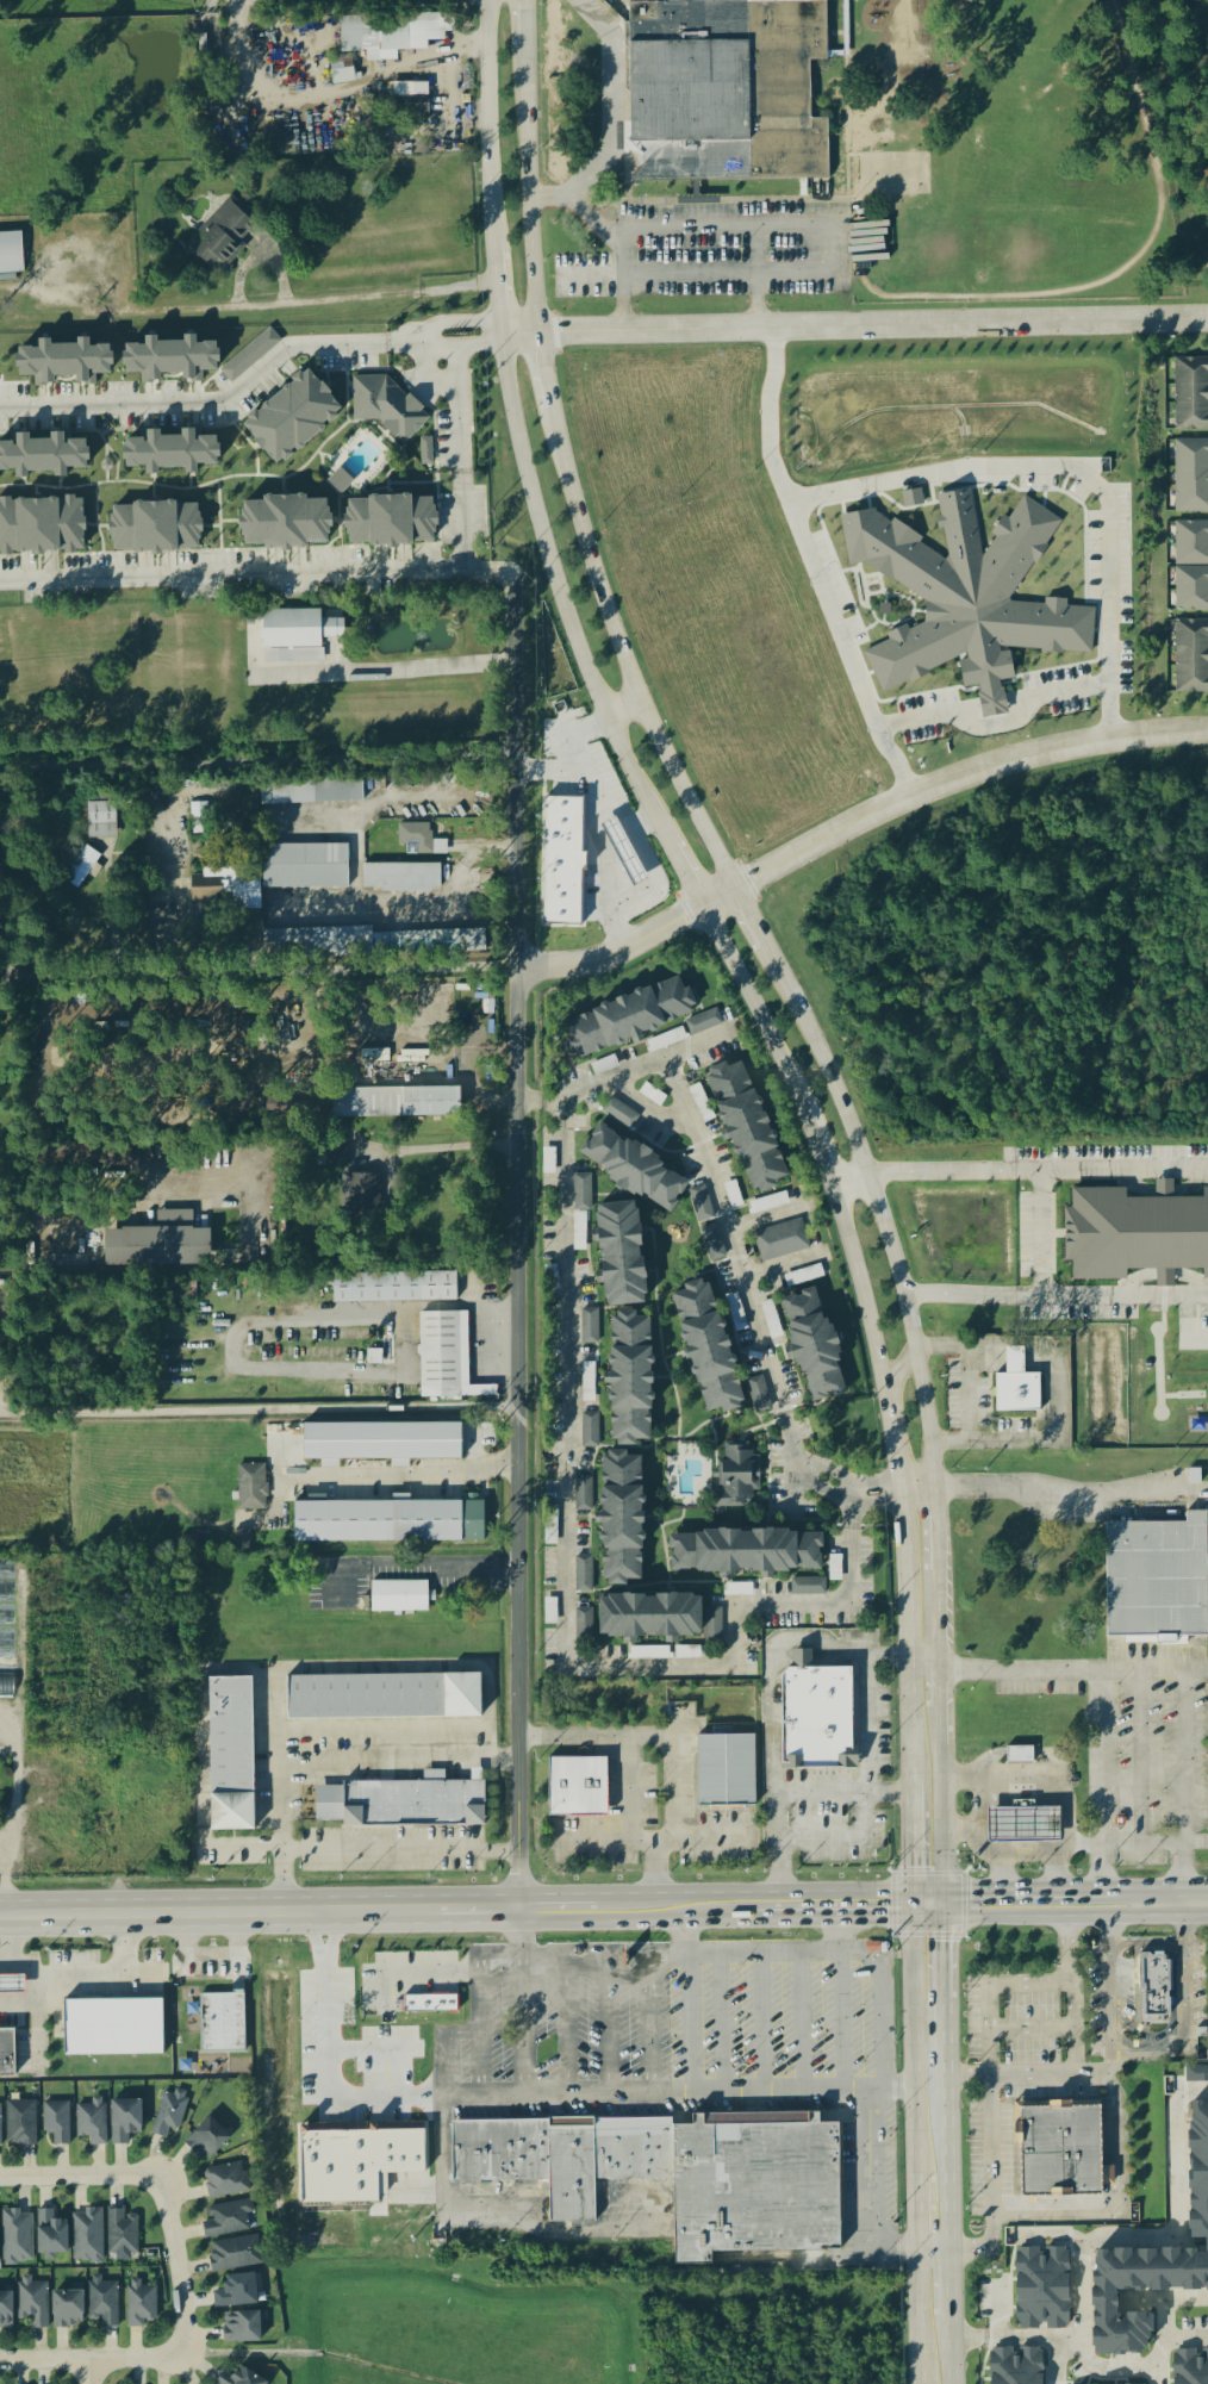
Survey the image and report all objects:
road: (210, 20)
road: (525, 24)
building: (394, 35)
building: (344, 73)
building: (413, 89)
building: (722, 91)
road: (614, 102)
road: (491, 126)
crop: (85, 157)
road: (579, 211)
road: (845, 214)
road: (736, 230)
building: (225, 235)
road: (818, 251)
building: (12, 254)
road: (689, 274)
road: (758, 280)
road: (622, 281)
road: (499, 293)
road: (996, 299)
road: (315, 303)
road: (855, 328)
building: (197, 359)
building: (71, 362)
road: (251, 378)
building: (1191, 396)
building: (391, 407)
building: (303, 416)
building: (429, 452)
building: (179, 453)
road: (457, 455)
building: (48, 456)
road: (1073, 473)
building: (1193, 477)
building: (343, 480)
road: (568, 484)
building: (915, 499)
building: (396, 522)
building: (294, 523)
building: (44, 527)
building: (161, 528)
building: (1193, 543)
road: (815, 568)
road: (259, 569)
building: (1193, 590)
building: (967, 595)
road: (559, 596)
building: (300, 636)
building: (1191, 658)
road: (391, 670)
road: (627, 714)
road: (996, 723)
road: (257, 762)
road: (553, 771)
building: (315, 793)
building: (200, 811)
building: (102, 821)
road: (645, 824)
road: (853, 826)
road: (600, 827)
building: (422, 840)
road: (648, 857)
building: (568, 863)
building: (309, 867)
road: (685, 873)
building: (405, 878)
building: (232, 888)
road: (425, 909)
road: (754, 921)
building: (372, 944)
road: (410, 967)
road: (754, 1008)
building: (629, 1017)
building: (705, 1021)
road: (471, 1056)
road: (530, 1100)
building: (401, 1102)
building: (624, 1113)
building: (746, 1127)
road: (348, 1137)
road: (857, 1145)
road: (815, 1147)
road: (1108, 1168)
building: (631, 1169)
road: (938, 1170)
road: (714, 1178)
road: (847, 1178)
building: (362, 1193)
building: (584, 1193)
building: (700, 1203)
building: (1137, 1232)
building: (780, 1240)
building: (163, 1243)
building: (715, 1243)
road: (517, 1246)
building: (619, 1255)
building: (809, 1275)
road: (859, 1283)
building: (398, 1288)
road: (954, 1291)
road: (1108, 1291)
road: (243, 1327)
building: (590, 1327)
building: (812, 1346)
building: (706, 1347)
road: (988, 1353)
road: (1039, 1353)
road: (1014, 1355)
building: (449, 1358)
road: (986, 1362)
road: (1014, 1362)
road: (1039, 1362)
road: (901, 1365)
road: (986, 1369)
road: (1014, 1370)
road: (1039, 1370)
building: (629, 1380)
road: (1054, 1383)
building: (1015, 1386)
road: (967, 1392)
road: (923, 1394)
building: (759, 1395)
road: (260, 1407)
building: (592, 1430)
road: (892, 1438)
building: (387, 1440)
road: (802, 1465)
road: (934, 1467)
road: (404, 1475)
building: (736, 1477)
building: (254, 1487)
road: (1052, 1489)
road: (857, 1492)
building: (586, 1494)
building: (621, 1519)
building: (393, 1521)
road: (938, 1531)
building: (244, 1539)
building: (745, 1554)
road: (435, 1563)
road: (565, 1571)
building: (586, 1574)
building: (1156, 1580)
building: (808, 1588)
building: (401, 1596)
building: (7, 1613)
building: (648, 1618)
road: (940, 1620)
building: (586, 1625)
building: (712, 1626)
road: (903, 1639)
building: (7, 1662)
road: (919, 1663)
road: (379, 1666)
road: (1140, 1669)
road: (941, 1691)
building: (382, 1698)
building: (817, 1717)
road: (941, 1729)
road: (673, 1744)
building: (230, 1755)
building: (1019, 1756)
road: (1142, 1756)
road: (329, 1761)
building: (730, 1770)
road: (1185, 1774)
road: (1050, 1779)
building: (577, 1788)
road: (841, 1791)
building: (401, 1804)
road: (627, 1804)
road: (14, 1817)
road: (942, 1817)
road: (119, 1824)
building: (1022, 1825)
road: (908, 1837)
road: (988, 1841)
road: (1156, 1842)
road: (4, 1849)
road: (405, 1851)
road: (1027, 1857)
road: (1054, 1865)
traffic signals: (910, 1890)
traffic signals: (947, 1890)
road: (1050, 1890)
road: (835, 1893)
road: (640, 1896)
road: (1197, 1899)
road: (262, 1913)
road: (1051, 1917)
traffic signals: (910, 1918)
traffic signals: (947, 1918)
road: (834, 1919)
road: (1188, 1922)
road: (640, 1923)
road: (1148, 1944)
road: (946, 1946)
road: (15, 1947)
road: (574, 1947)
road: (746, 1954)
road: (325, 1957)
road: (648, 1962)
road: (241, 1966)
road: (96, 1971)
road: (417, 1972)
building: (14, 1985)
road: (879, 1988)
building: (1154, 1988)
road: (1110, 1991)
building: (434, 2004)
road: (38, 2005)
road: (186, 2019)
road: (759, 2022)
road: (804, 2022)
building: (222, 2023)
road: (690, 2023)
road: (723, 2023)
building: (117, 2028)
road: (910, 2033)
road: (1188, 2036)
road: (368, 2053)
building: (10, 2054)
road: (1070, 2055)
road: (990, 2060)
road: (326, 2068)
road: (1091, 2071)
building: (1197, 2074)
road: (543, 2093)
building: (170, 2112)
building: (124, 2120)
building: (92, 2121)
building: (56, 2122)
building: (20, 2123)
building: (1, 2127)
road: (947, 2127)
road: (1115, 2135)
building: (206, 2139)
building: (1058, 2149)
building: (362, 2164)
building: (1203, 2172)
building: (677, 2173)
road: (81, 2178)
building: (225, 2180)
road: (864, 2193)
road: (913, 2214)
road: (1025, 2217)
building: (226, 2220)
building: (120, 2232)
building: (50, 2233)
building: (87, 2235)
road: (1157, 2236)
building: (17, 2237)
building: (0, 2248)
road: (932, 2252)
building: (235, 2254)
road: (179, 2267)
road: (949, 2286)
building: (1046, 2289)
building: (236, 2291)
building: (104, 2301)
building: (32, 2302)
building: (141, 2304)
building: (1114, 2304)
building: (67, 2309)
building: (5, 2310)
road: (914, 2317)
building: (241, 2327)
road: (966, 2334)
road: (951, 2352)
road: (1104, 2363)
road: (94, 2364)
building: (1020, 2366)
building: (1193, 2367)
road: (89, 2374)
building: (238, 2377)

